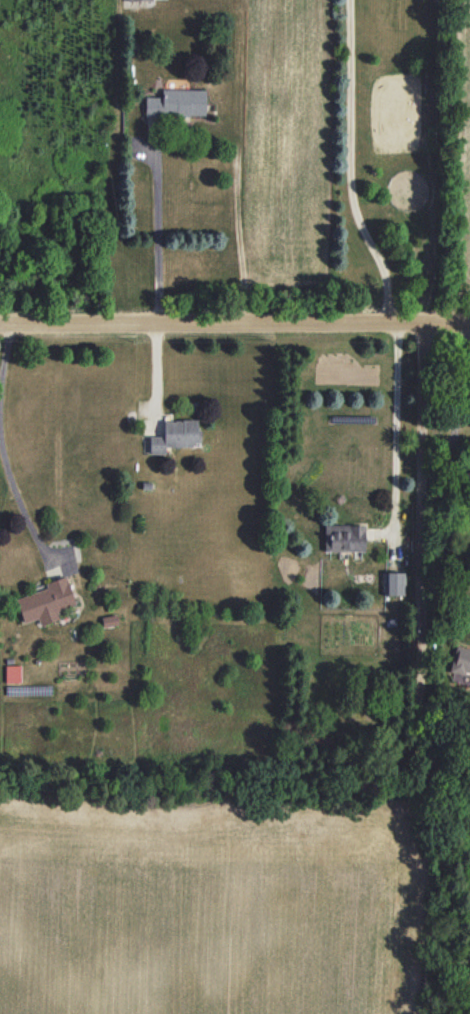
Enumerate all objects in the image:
building: (138, 0)
building: (176, 103)
crop: (459, 160)
road: (351, 164)
road: (157, 229)
road: (234, 322)
road: (5, 356)
road: (156, 375)
road: (457, 404)
road: (395, 427)
building: (175, 436)
road: (21, 502)
building: (344, 537)
road: (418, 577)
building: (392, 583)
building: (45, 601)
building: (460, 659)
building: (12, 673)

